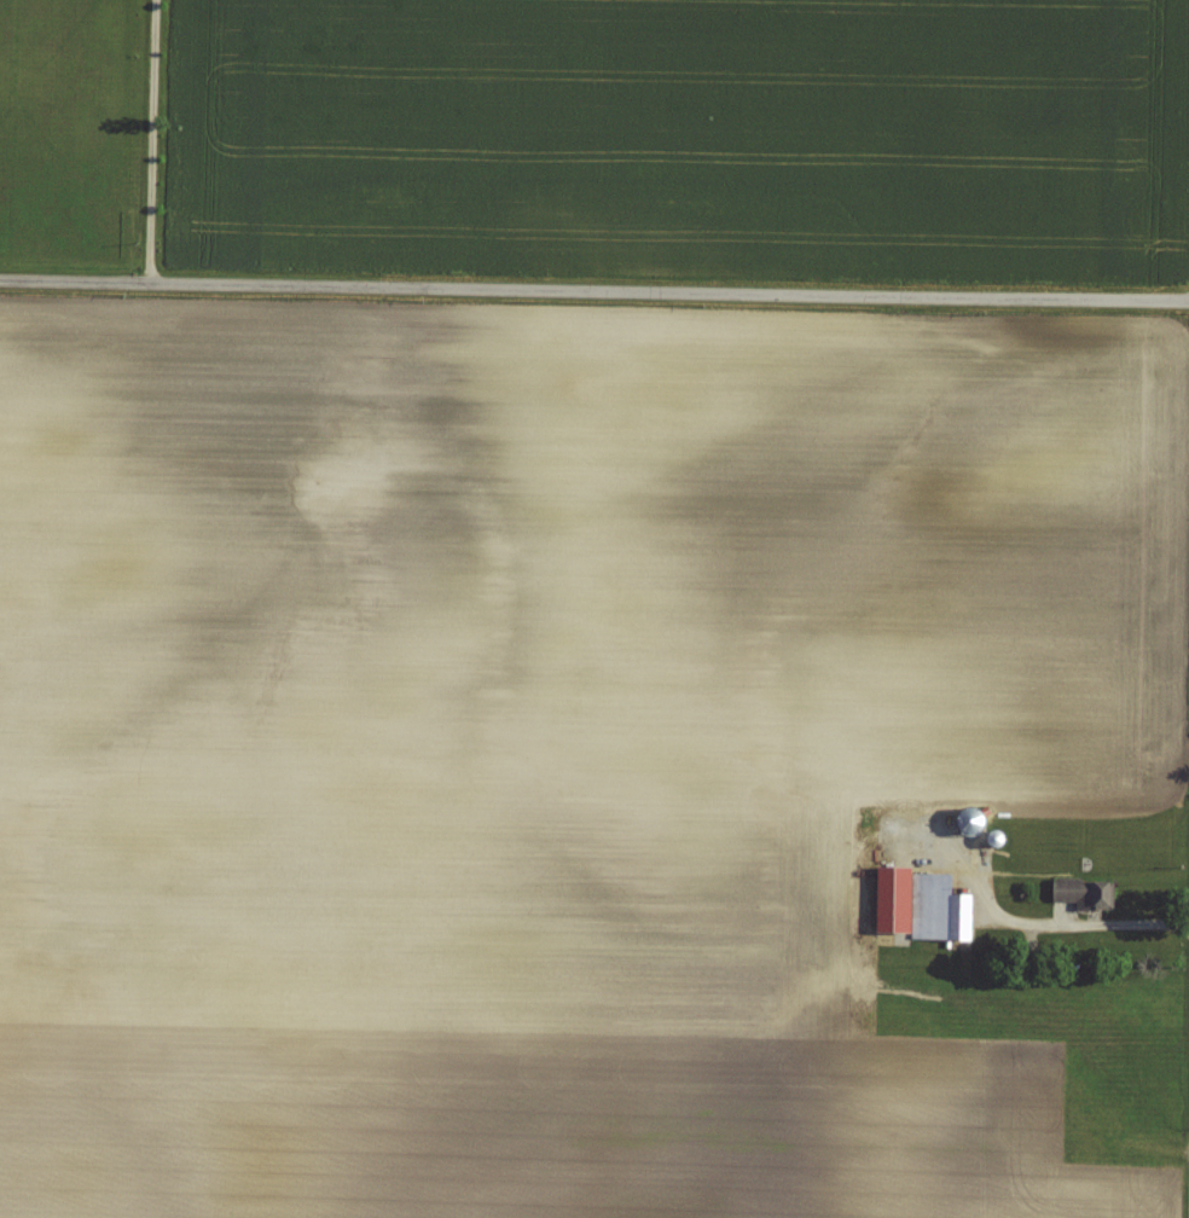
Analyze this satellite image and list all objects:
road: (593, 289)

